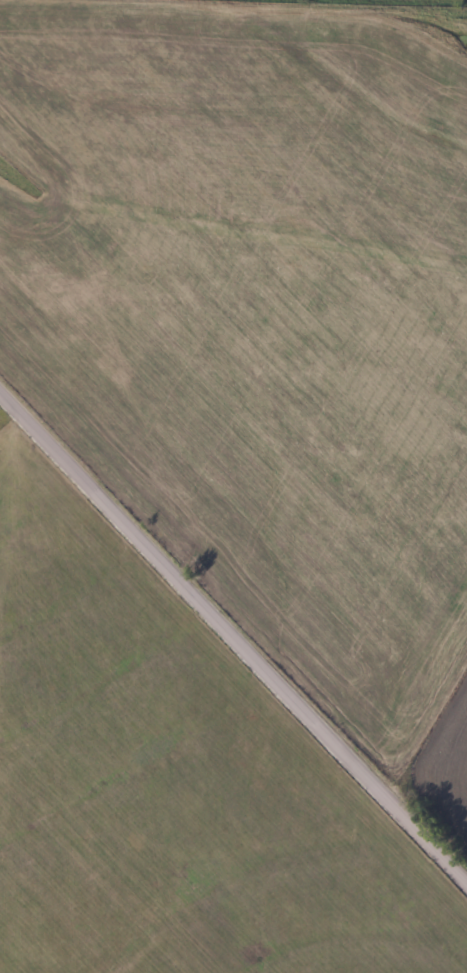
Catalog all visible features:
road: (233, 640)

